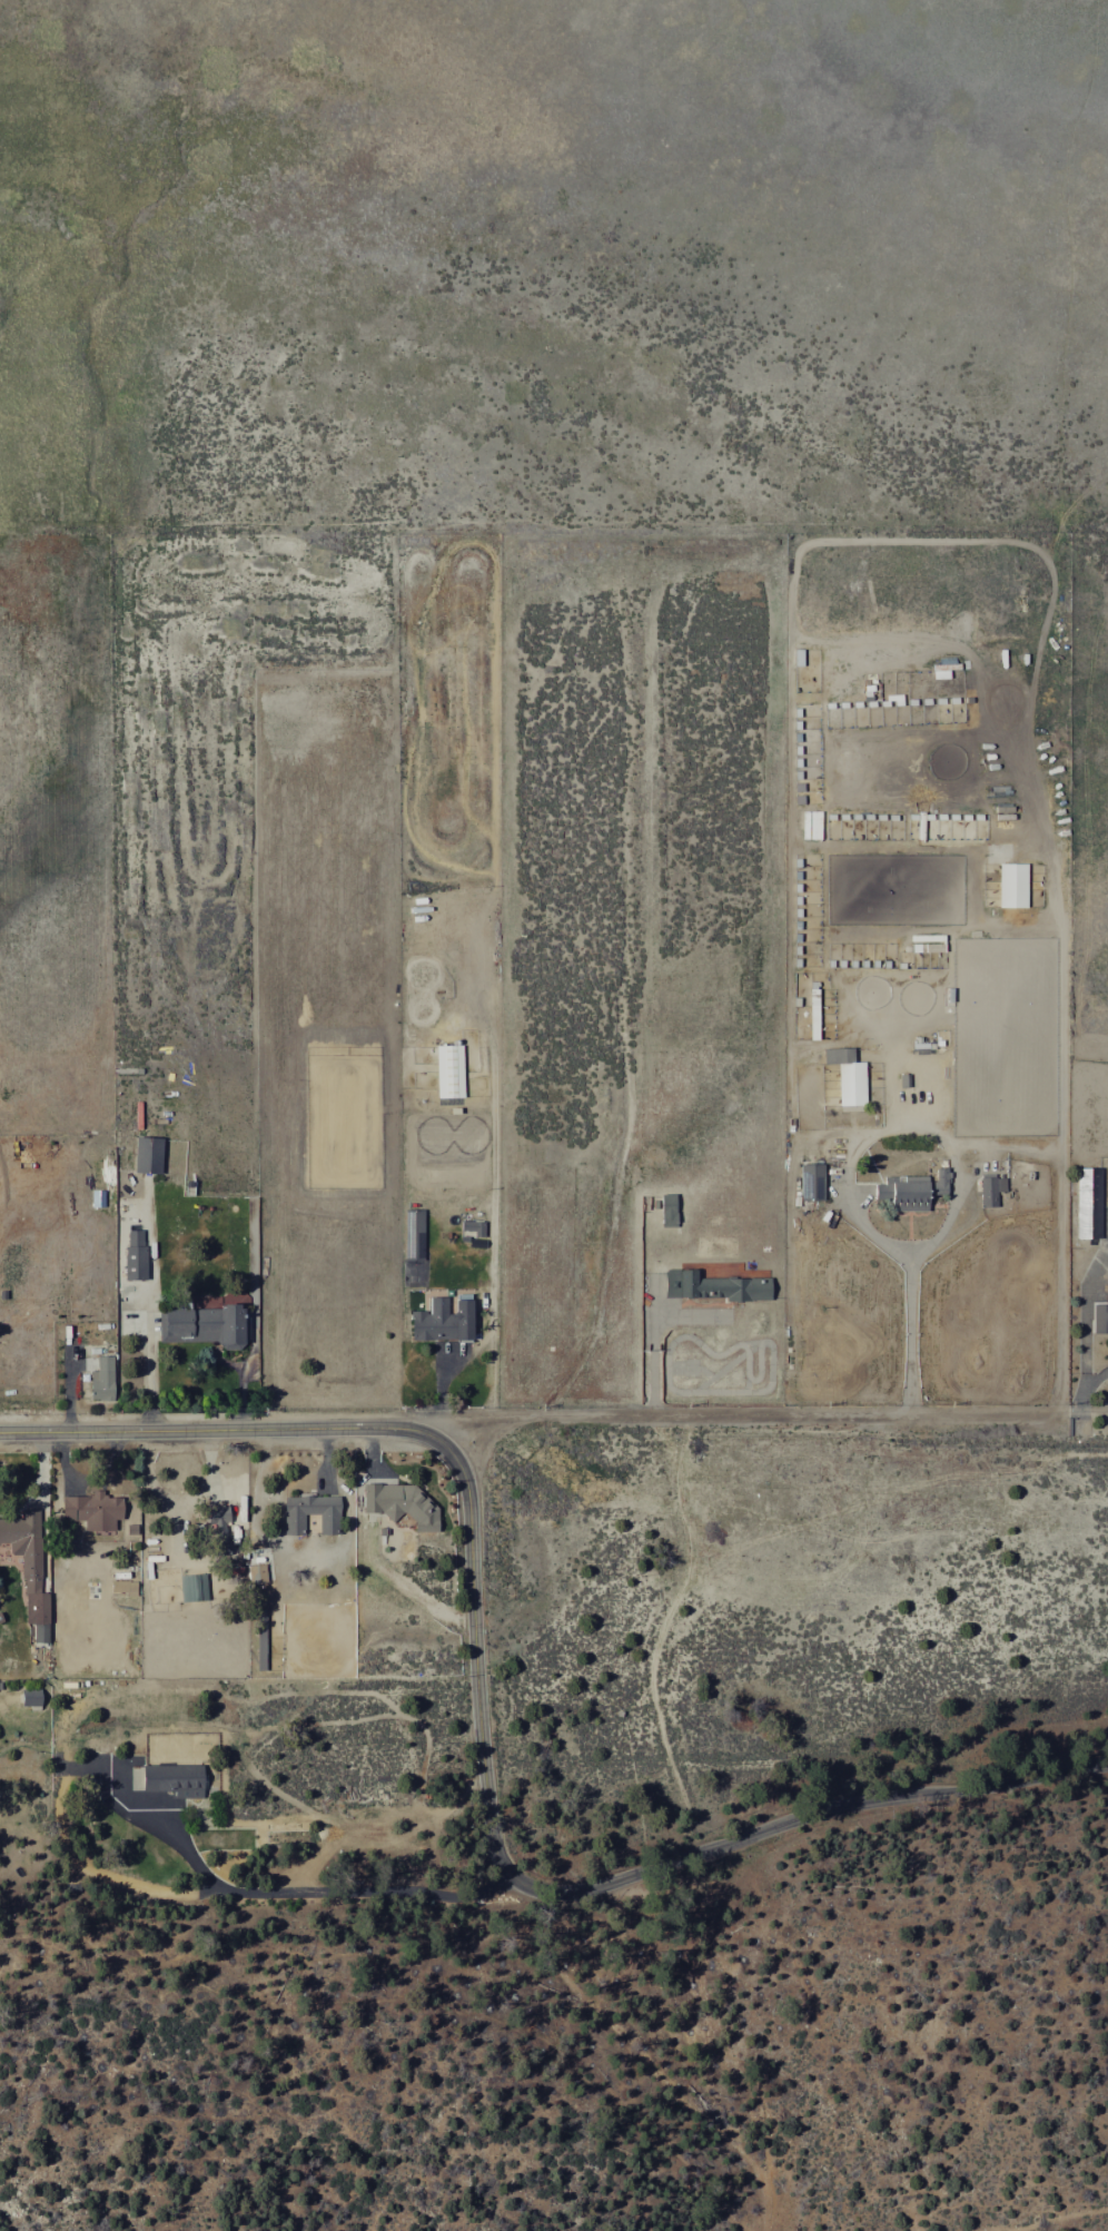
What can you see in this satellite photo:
building: (1009, 886)
building: (451, 1070)
building: (844, 1076)
building: (149, 1154)
road: (958, 1162)
building: (808, 1182)
building: (1089, 1185)
building: (988, 1189)
building: (909, 1191)
building: (474, 1226)
building: (136, 1254)
road: (491, 1263)
building: (710, 1286)
road: (149, 1309)
road: (1085, 1310)
building: (445, 1321)
building: (208, 1325)
road: (1095, 1376)
building: (103, 1379)
road: (1081, 1401)
road: (752, 1415)
road: (1088, 1415)
road: (222, 1430)
building: (402, 1503)
building: (93, 1509)
building: (313, 1512)
building: (219, 1519)
building: (28, 1559)
building: (257, 1572)
building: (194, 1587)
building: (81, 1589)
building: (261, 1645)
building: (32, 1697)
building: (175, 1779)
road: (594, 1887)
road: (323, 1891)
road: (643, 2073)

